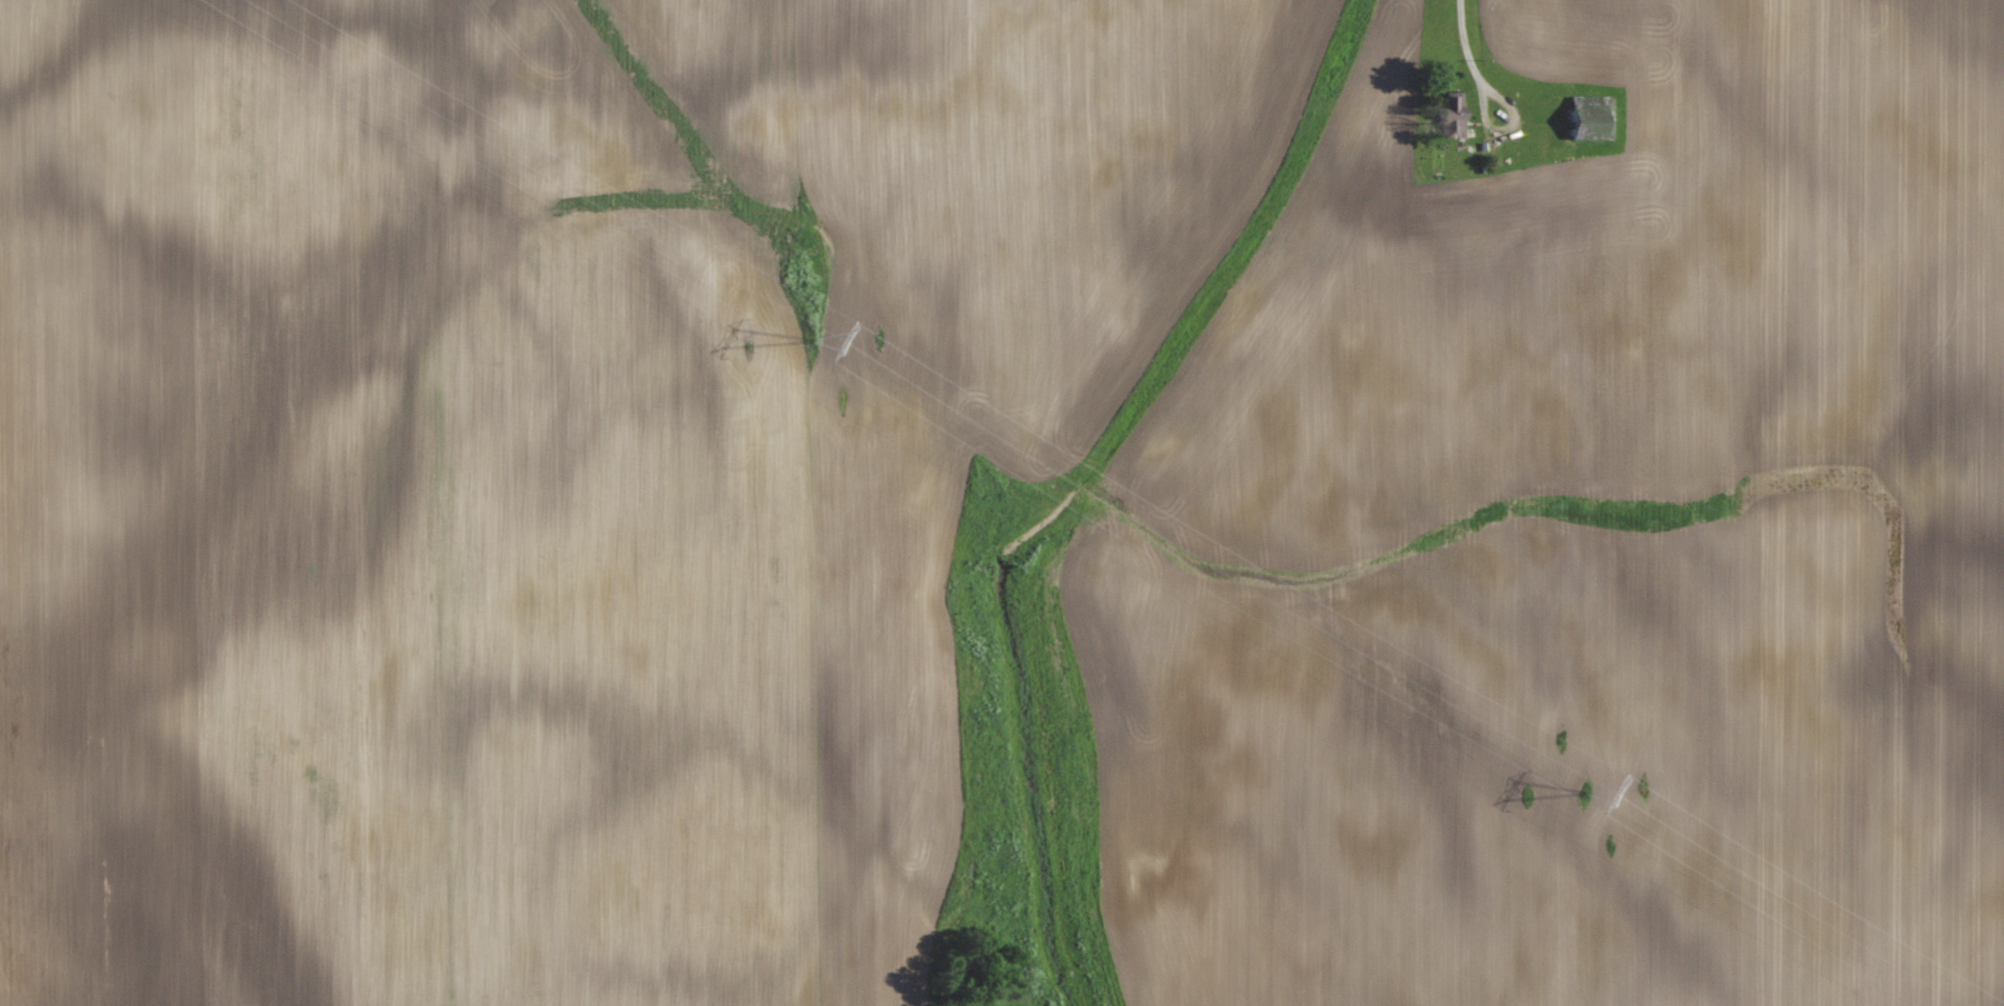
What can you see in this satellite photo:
road: (1463, 45)
building: (1592, 120)
road: (1508, 126)
power tower: (810, 338)
power tower: (1586, 791)

